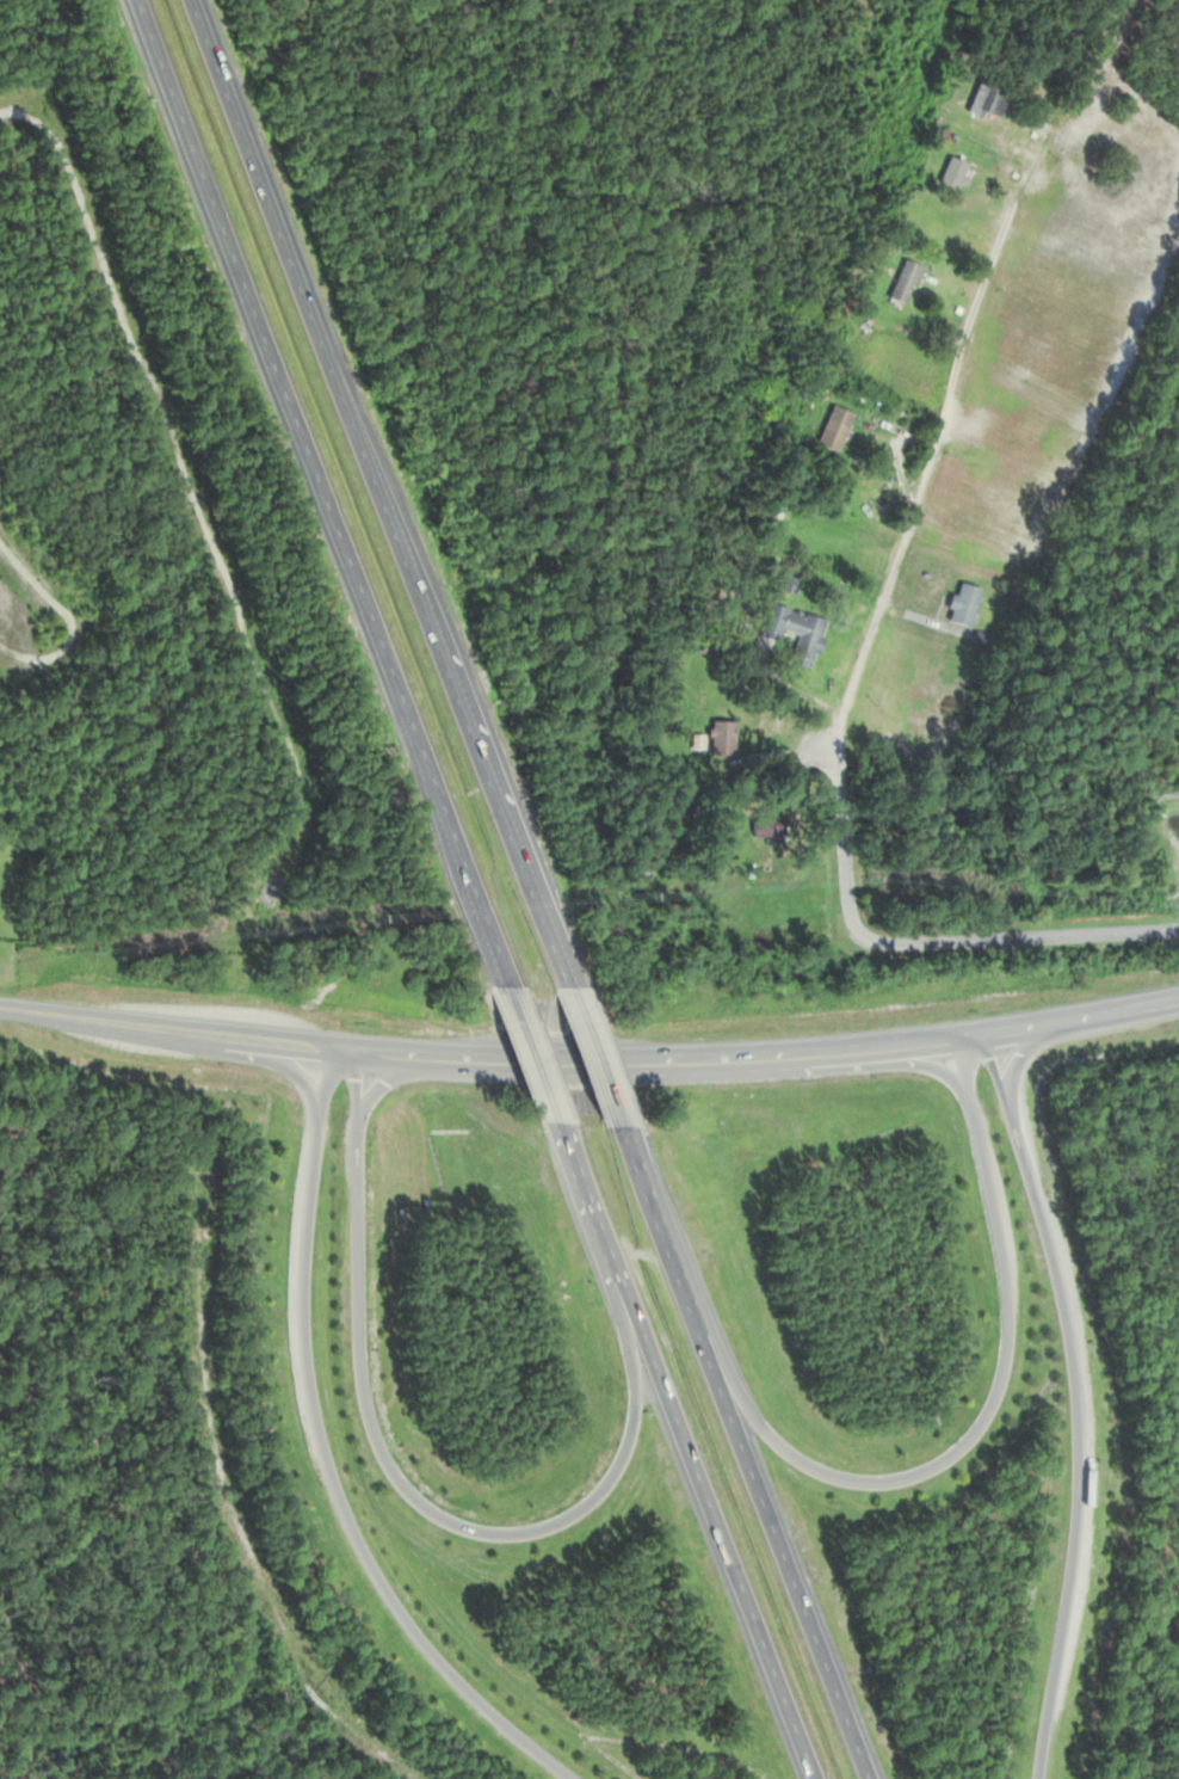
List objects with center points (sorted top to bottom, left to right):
building: (986, 103)
building: (951, 174)
building: (903, 284)
building: (832, 430)
road: (378, 497)
road: (322, 503)
building: (788, 585)
building: (962, 605)
railway: (21, 607)
building: (802, 638)
road: (856, 651)
building: (721, 738)
building: (766, 831)
road: (1081, 1018)
road: (490, 1058)
road: (594, 1059)
road: (537, 1070)
road: (1074, 1403)
road: (965, 1438)
road: (745, 1451)
road: (685, 1457)
road: (323, 1458)
road: (413, 1497)

